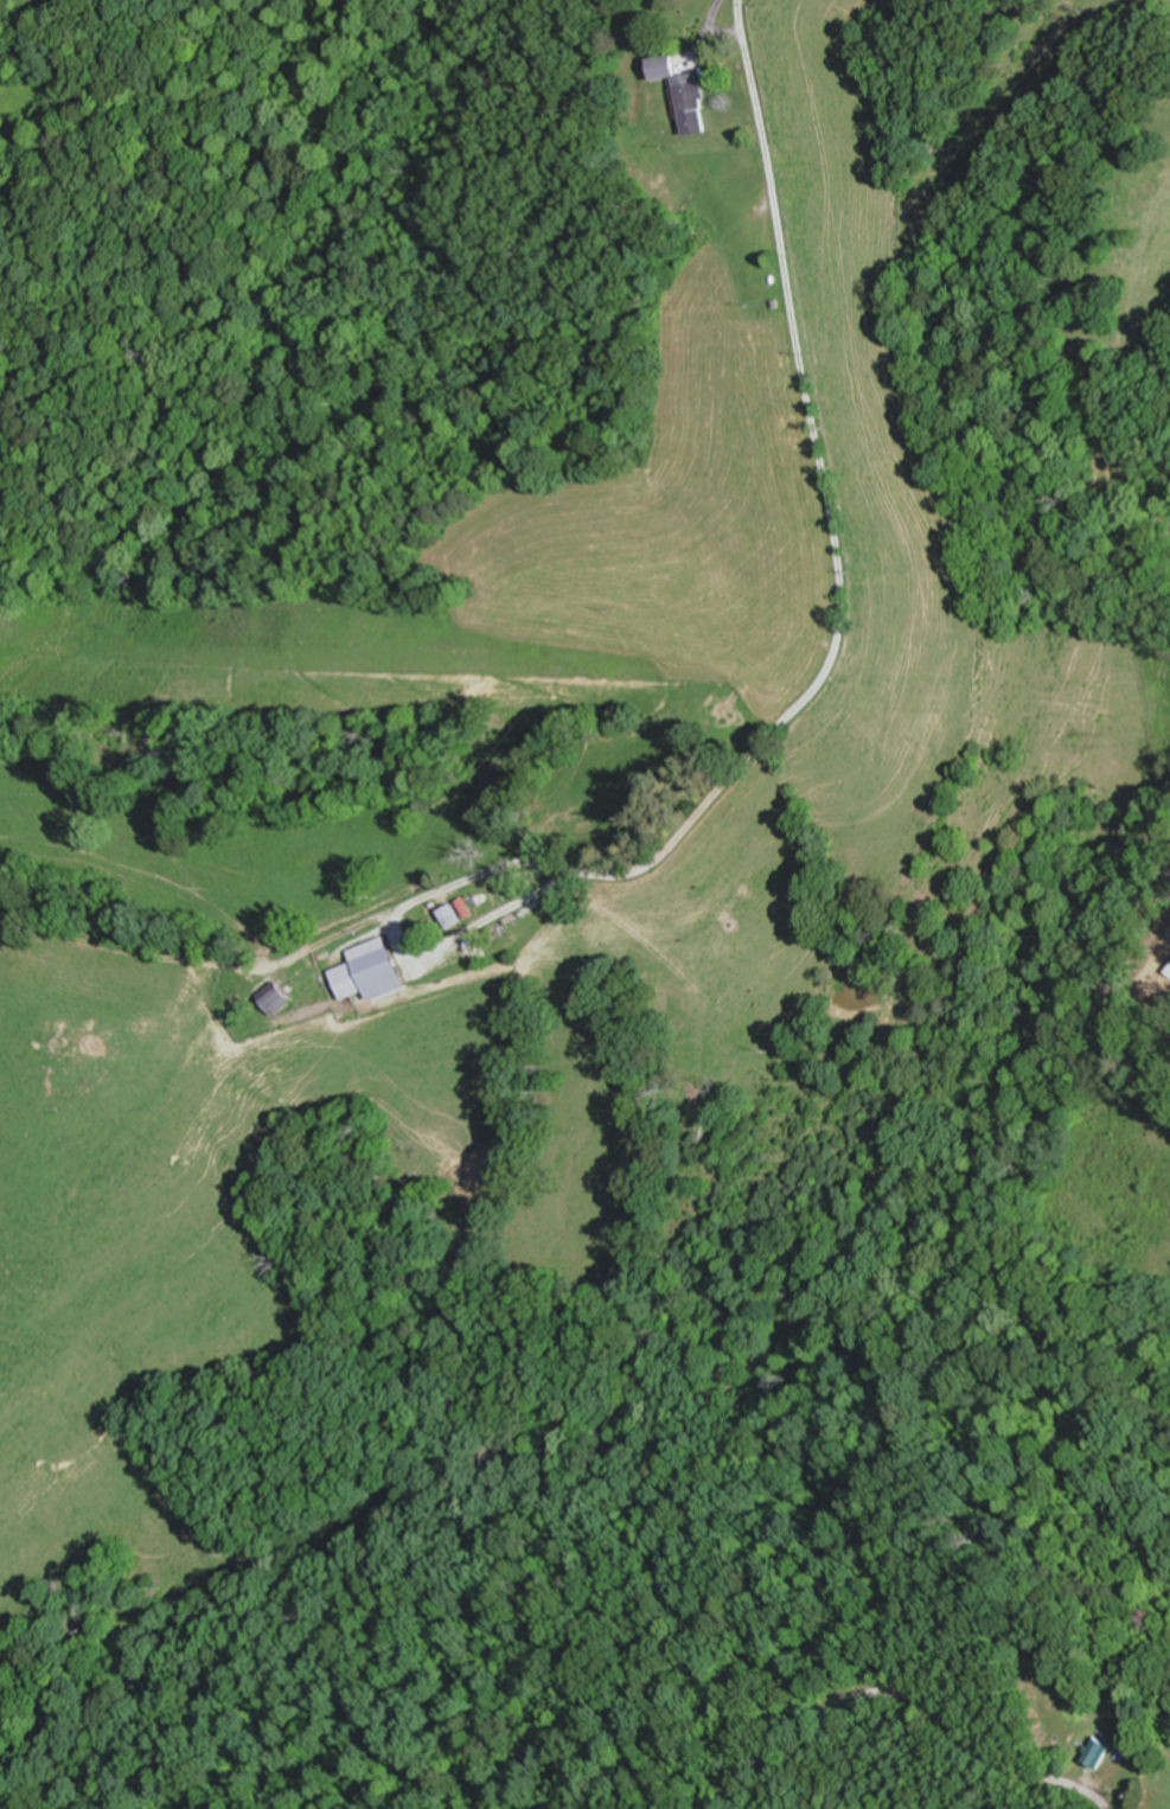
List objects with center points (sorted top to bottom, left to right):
building: (688, 94)
building: (757, 254)
road: (842, 637)
building: (372, 971)
building: (279, 998)
road: (914, 1695)
building: (1100, 1752)

